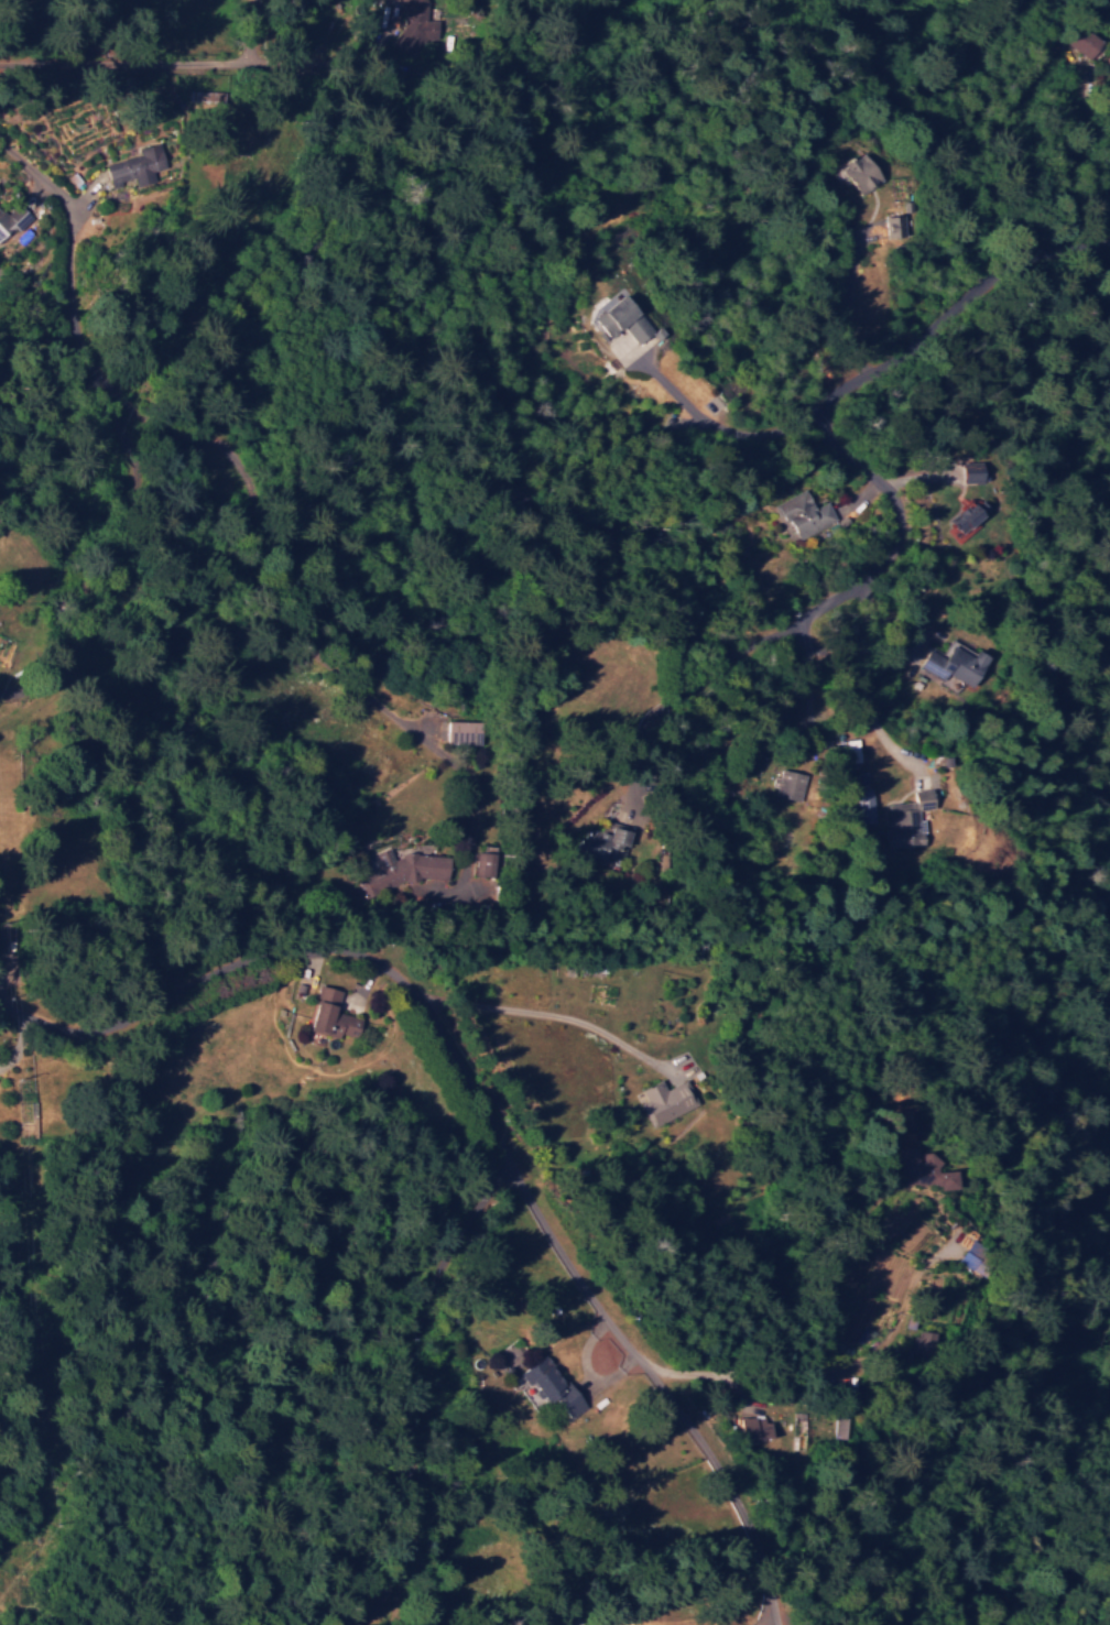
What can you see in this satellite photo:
building: (425, 29)
building: (1085, 42)
road: (159, 62)
road: (324, 74)
road: (272, 126)
building: (138, 166)
building: (858, 172)
building: (11, 221)
building: (902, 225)
building: (625, 319)
building: (715, 404)
building: (975, 471)
building: (805, 513)
building: (969, 516)
building: (955, 662)
building: (465, 731)
building: (792, 785)
building: (863, 801)
building: (908, 819)
building: (612, 841)
building: (488, 859)
building: (409, 868)
building: (334, 1015)
building: (665, 1101)
road: (483, 1117)
building: (947, 1179)
building: (973, 1254)
building: (924, 1342)
building: (554, 1384)
building: (757, 1427)
building: (842, 1427)

